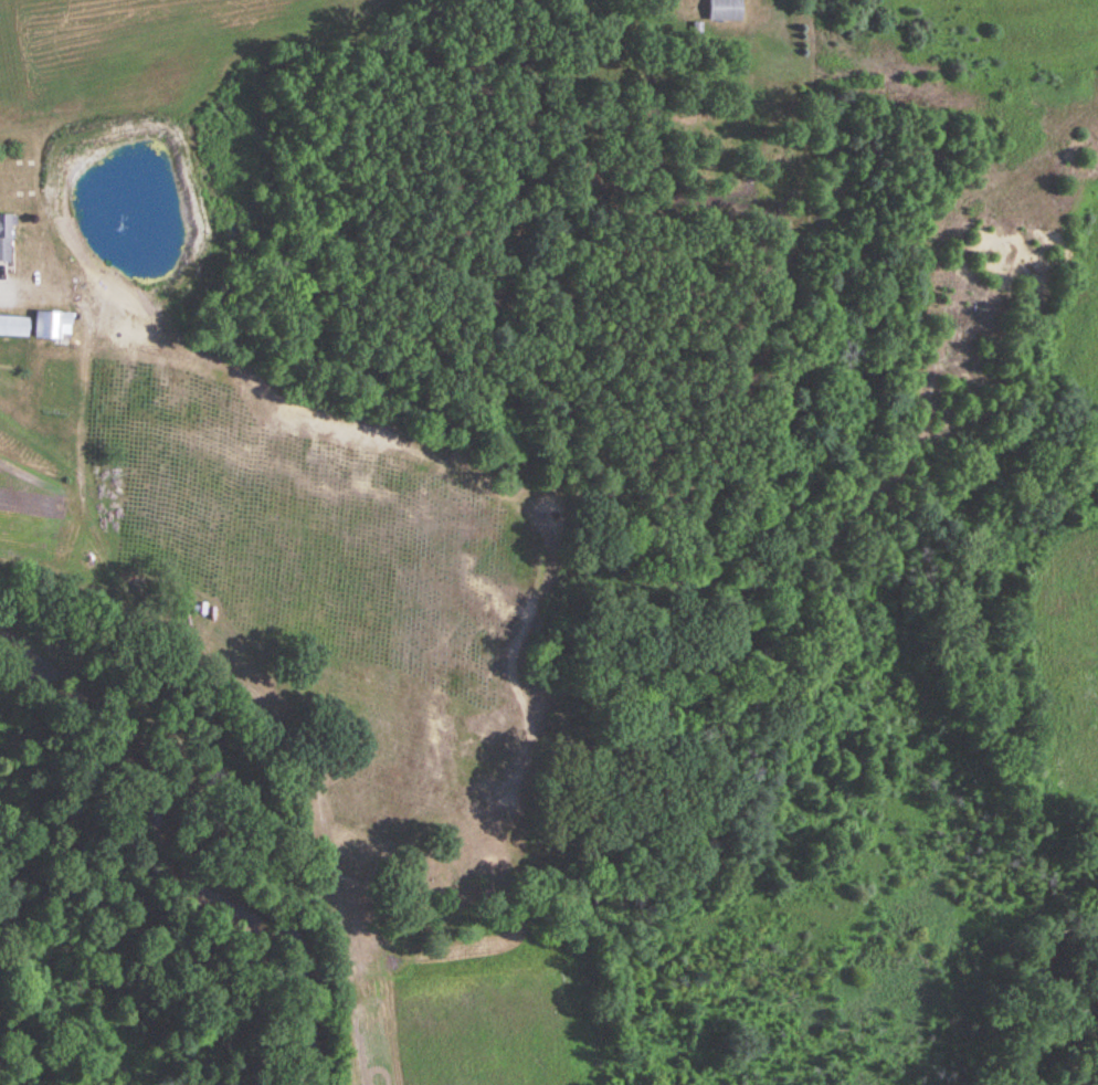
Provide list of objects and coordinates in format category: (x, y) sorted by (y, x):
building: (725, 10)
building: (4, 239)
road: (7, 302)
building: (51, 325)
building: (14, 327)
river: (179, 856)
river: (1031, 990)

